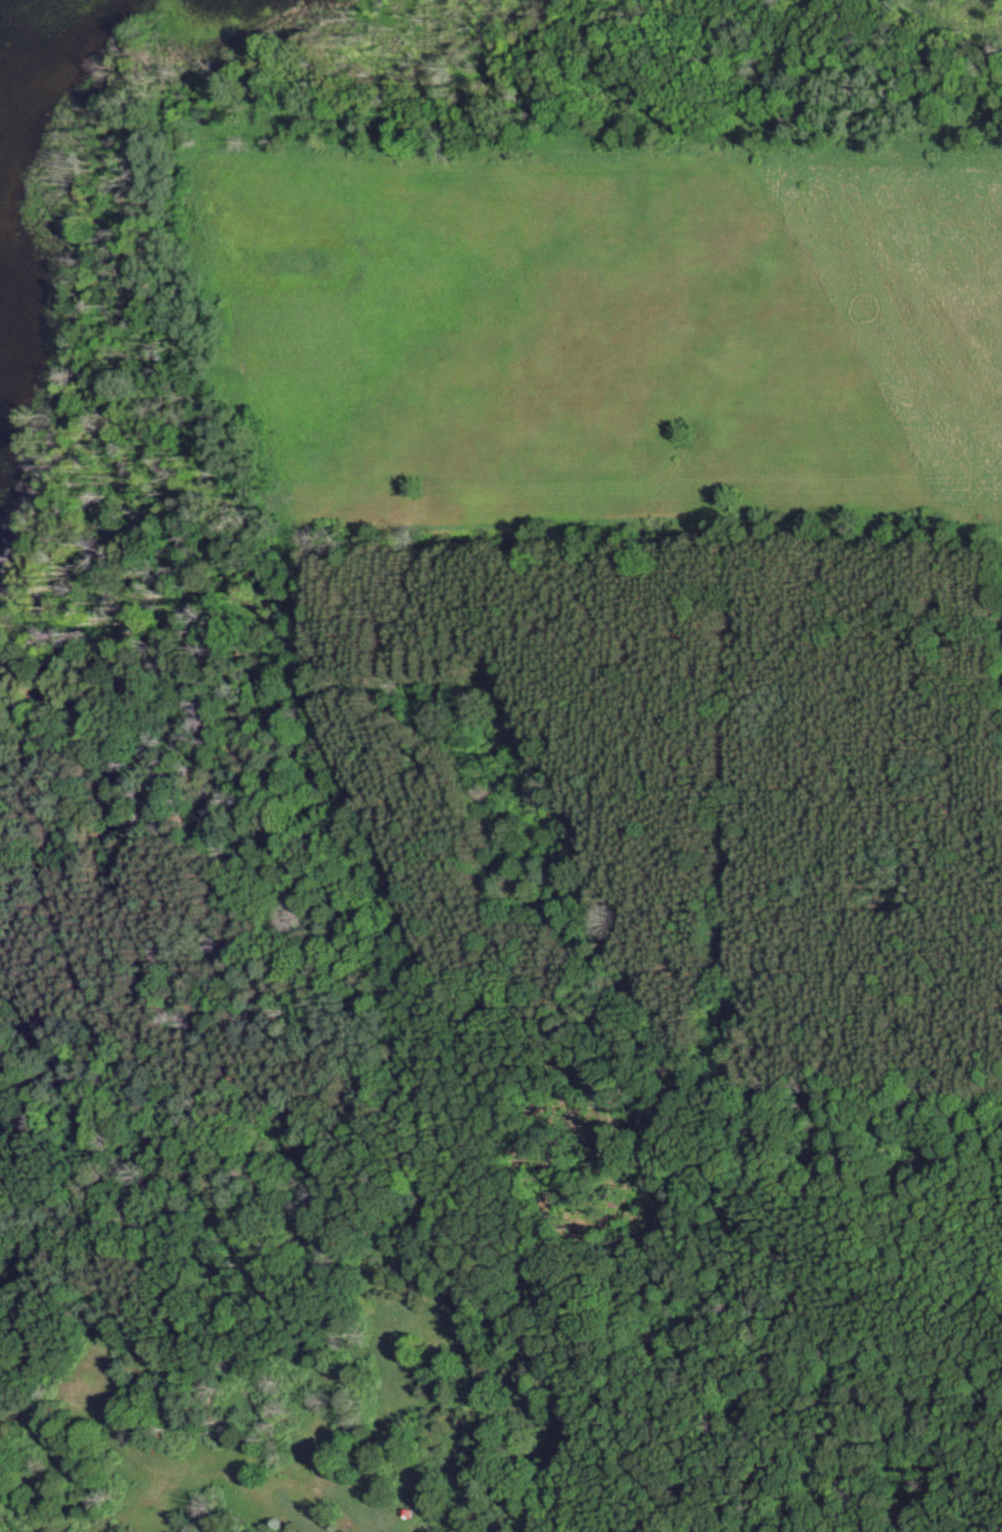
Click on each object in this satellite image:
road: (373, 578)
road: (157, 996)
road: (536, 1282)

